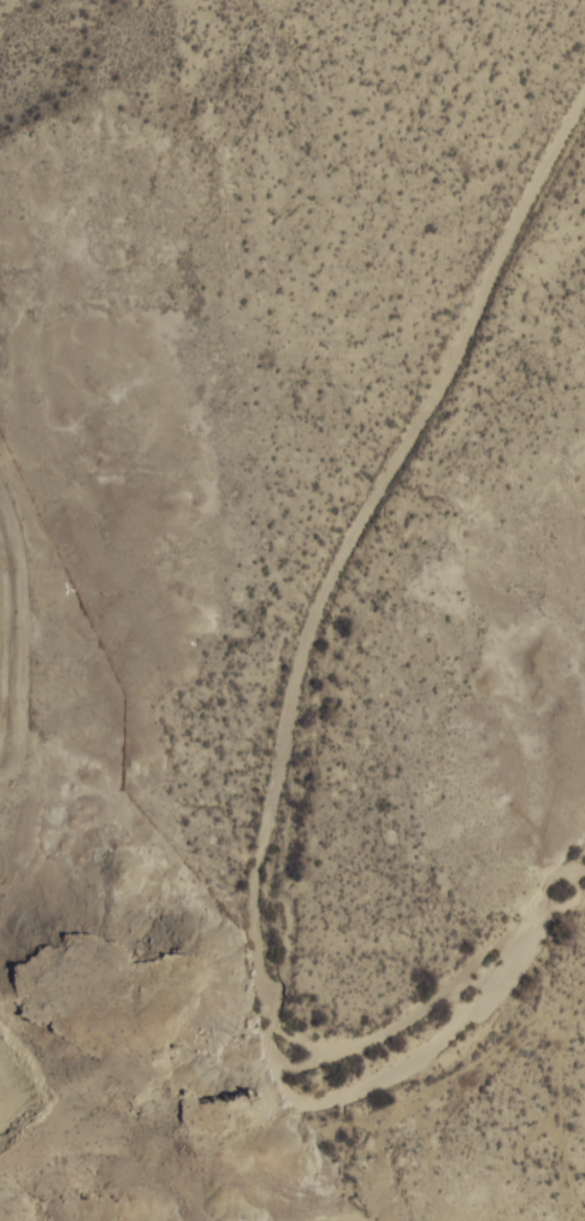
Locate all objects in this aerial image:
quarry: (30, 613)
river: (296, 766)

